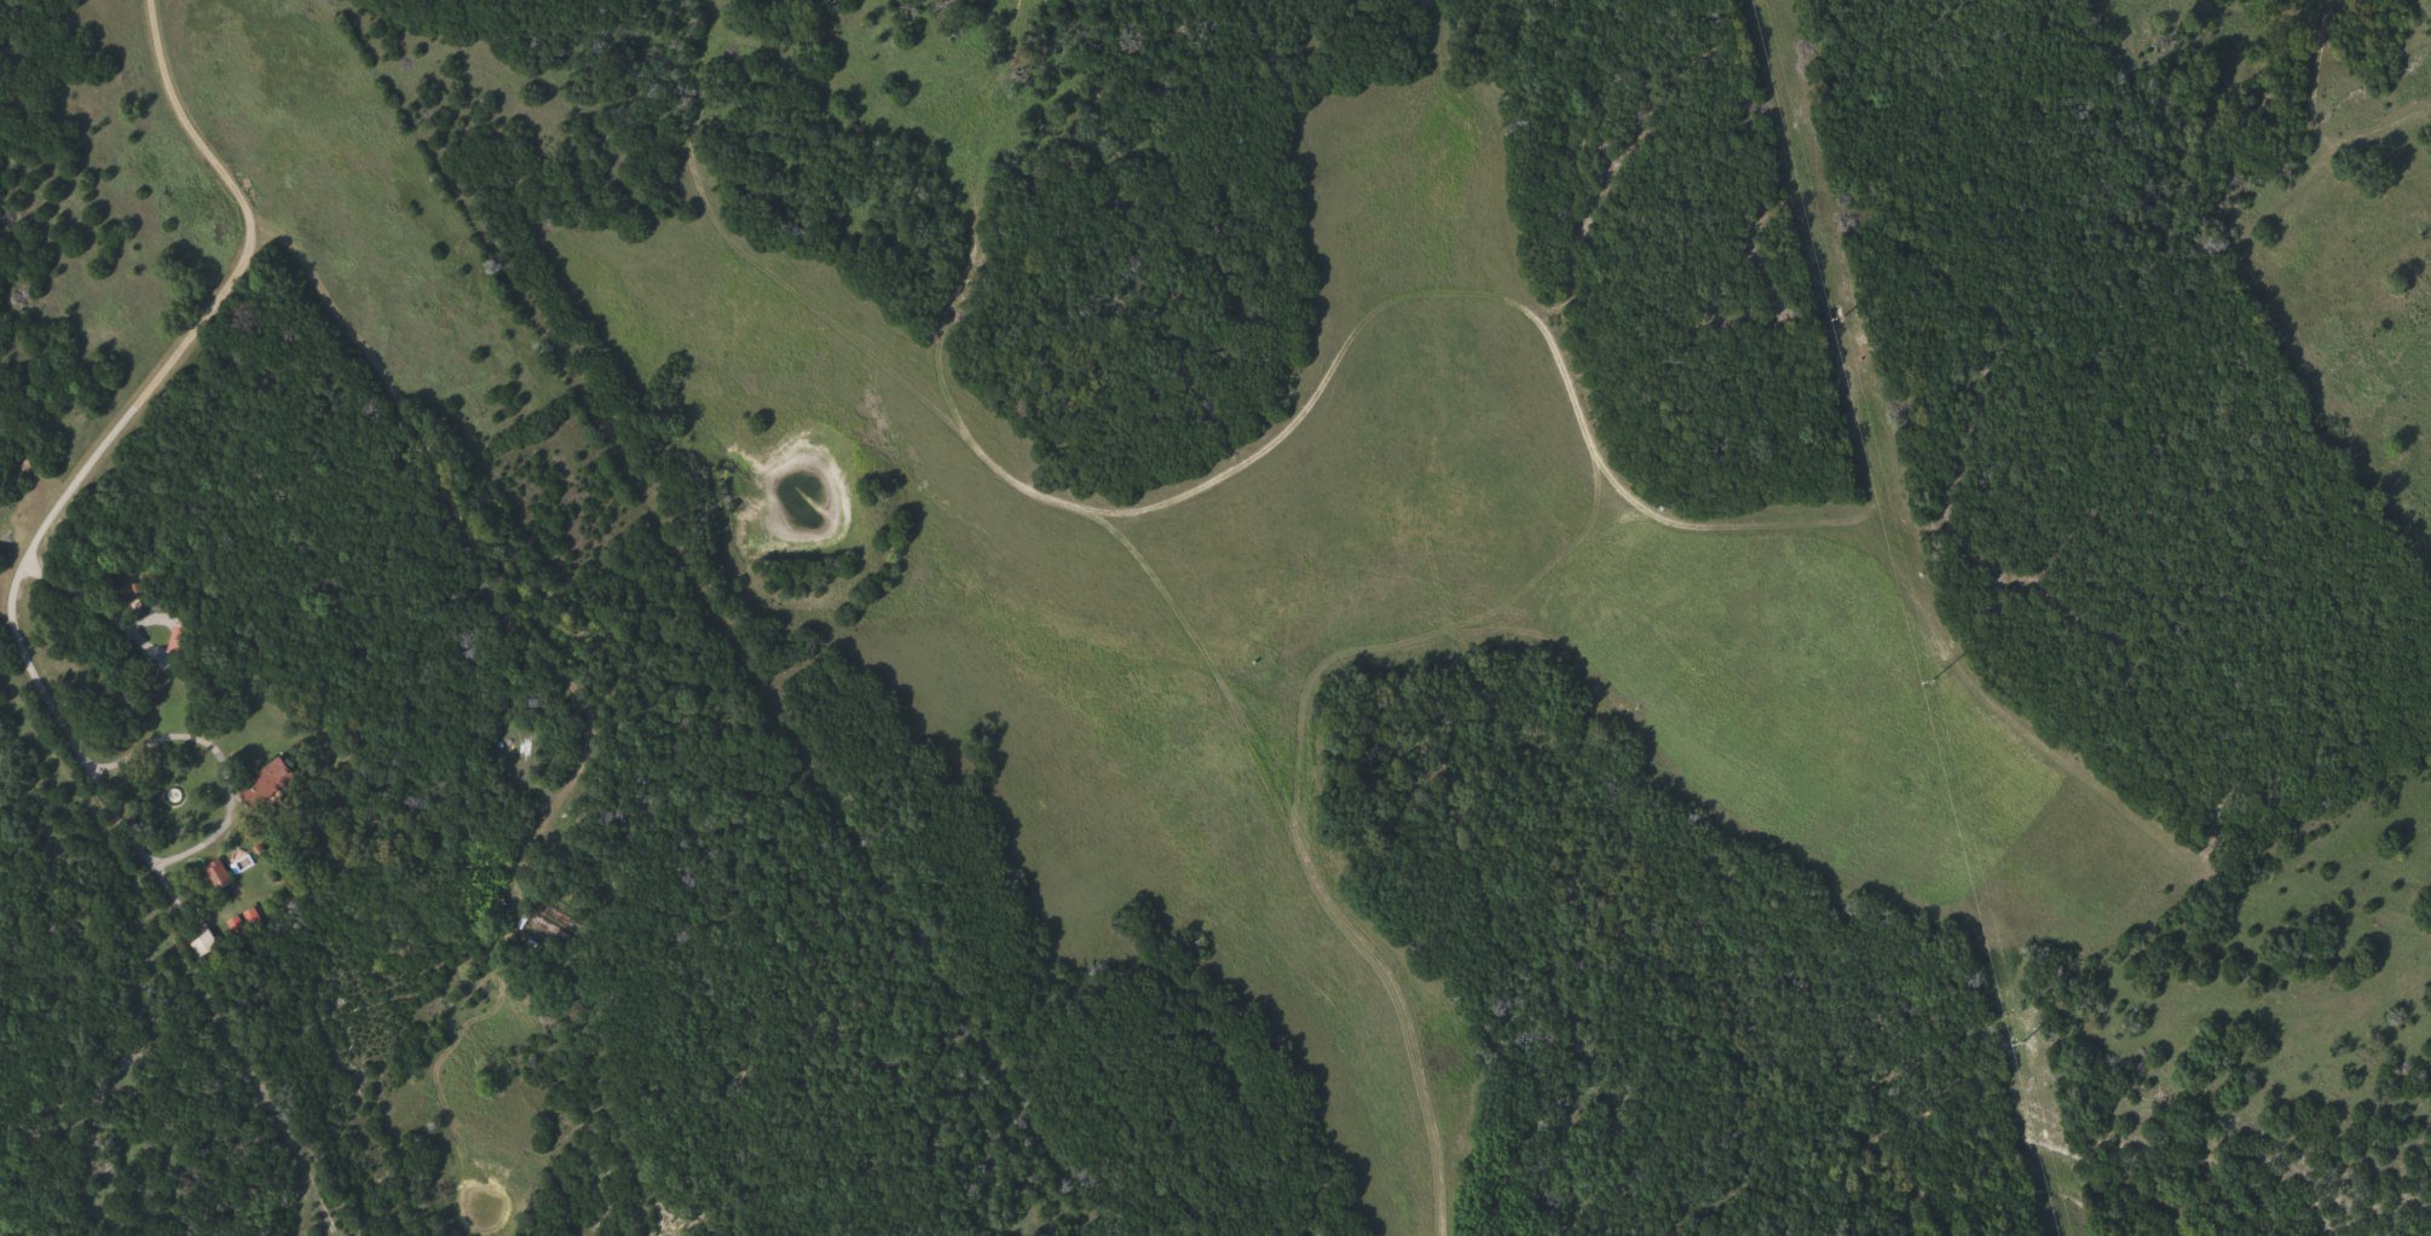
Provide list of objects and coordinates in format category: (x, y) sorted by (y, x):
road: (152, 387)
building: (177, 637)
building: (277, 770)
road: (231, 814)
building: (219, 874)
building: (206, 943)

